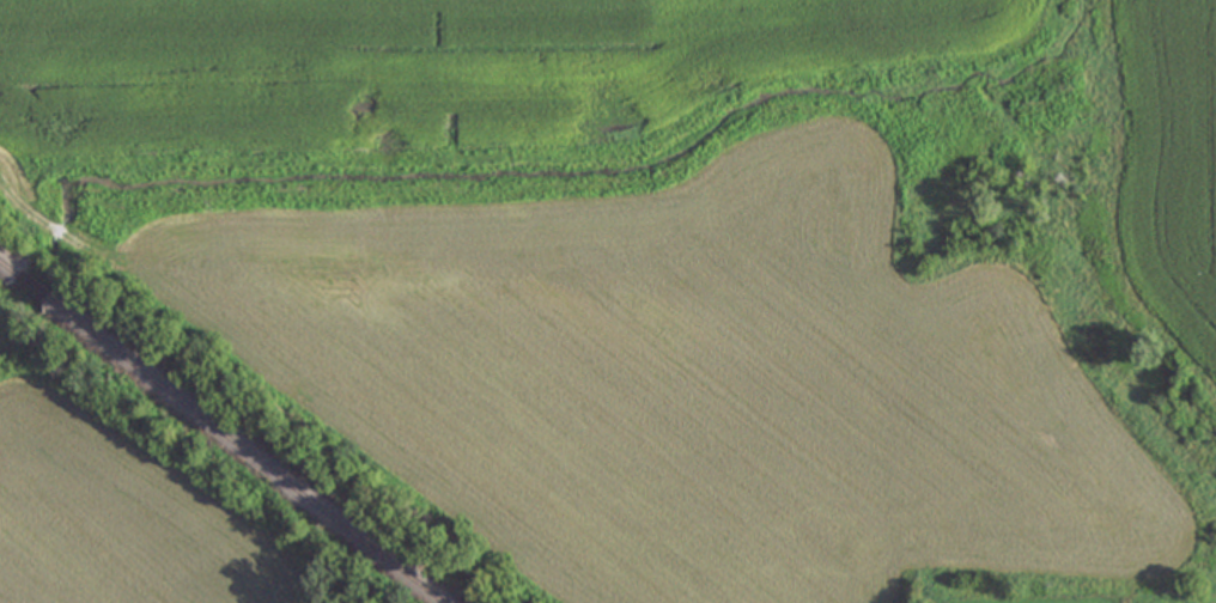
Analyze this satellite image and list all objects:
railway: (227, 431)

